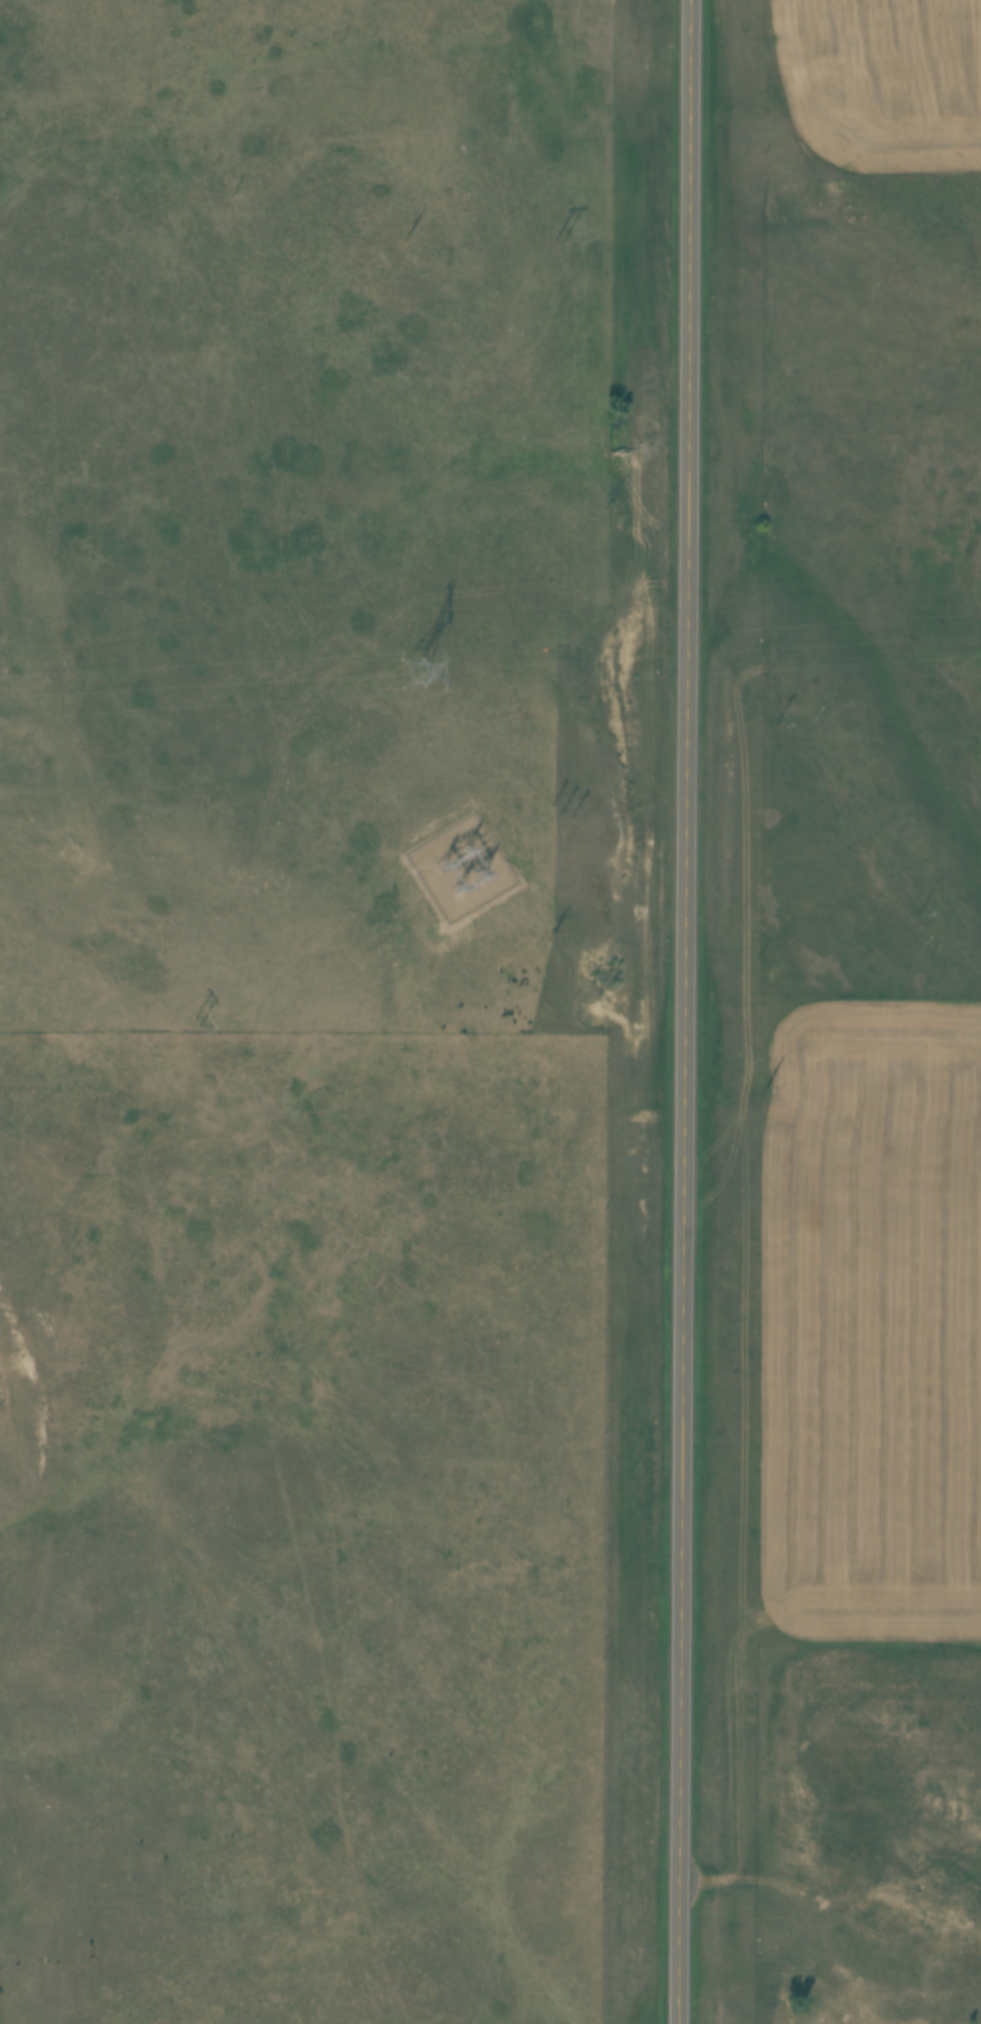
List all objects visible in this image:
power tower: (407, 673)
power substation: (462, 867)
road: (684, 1011)
road: (830, 1913)

